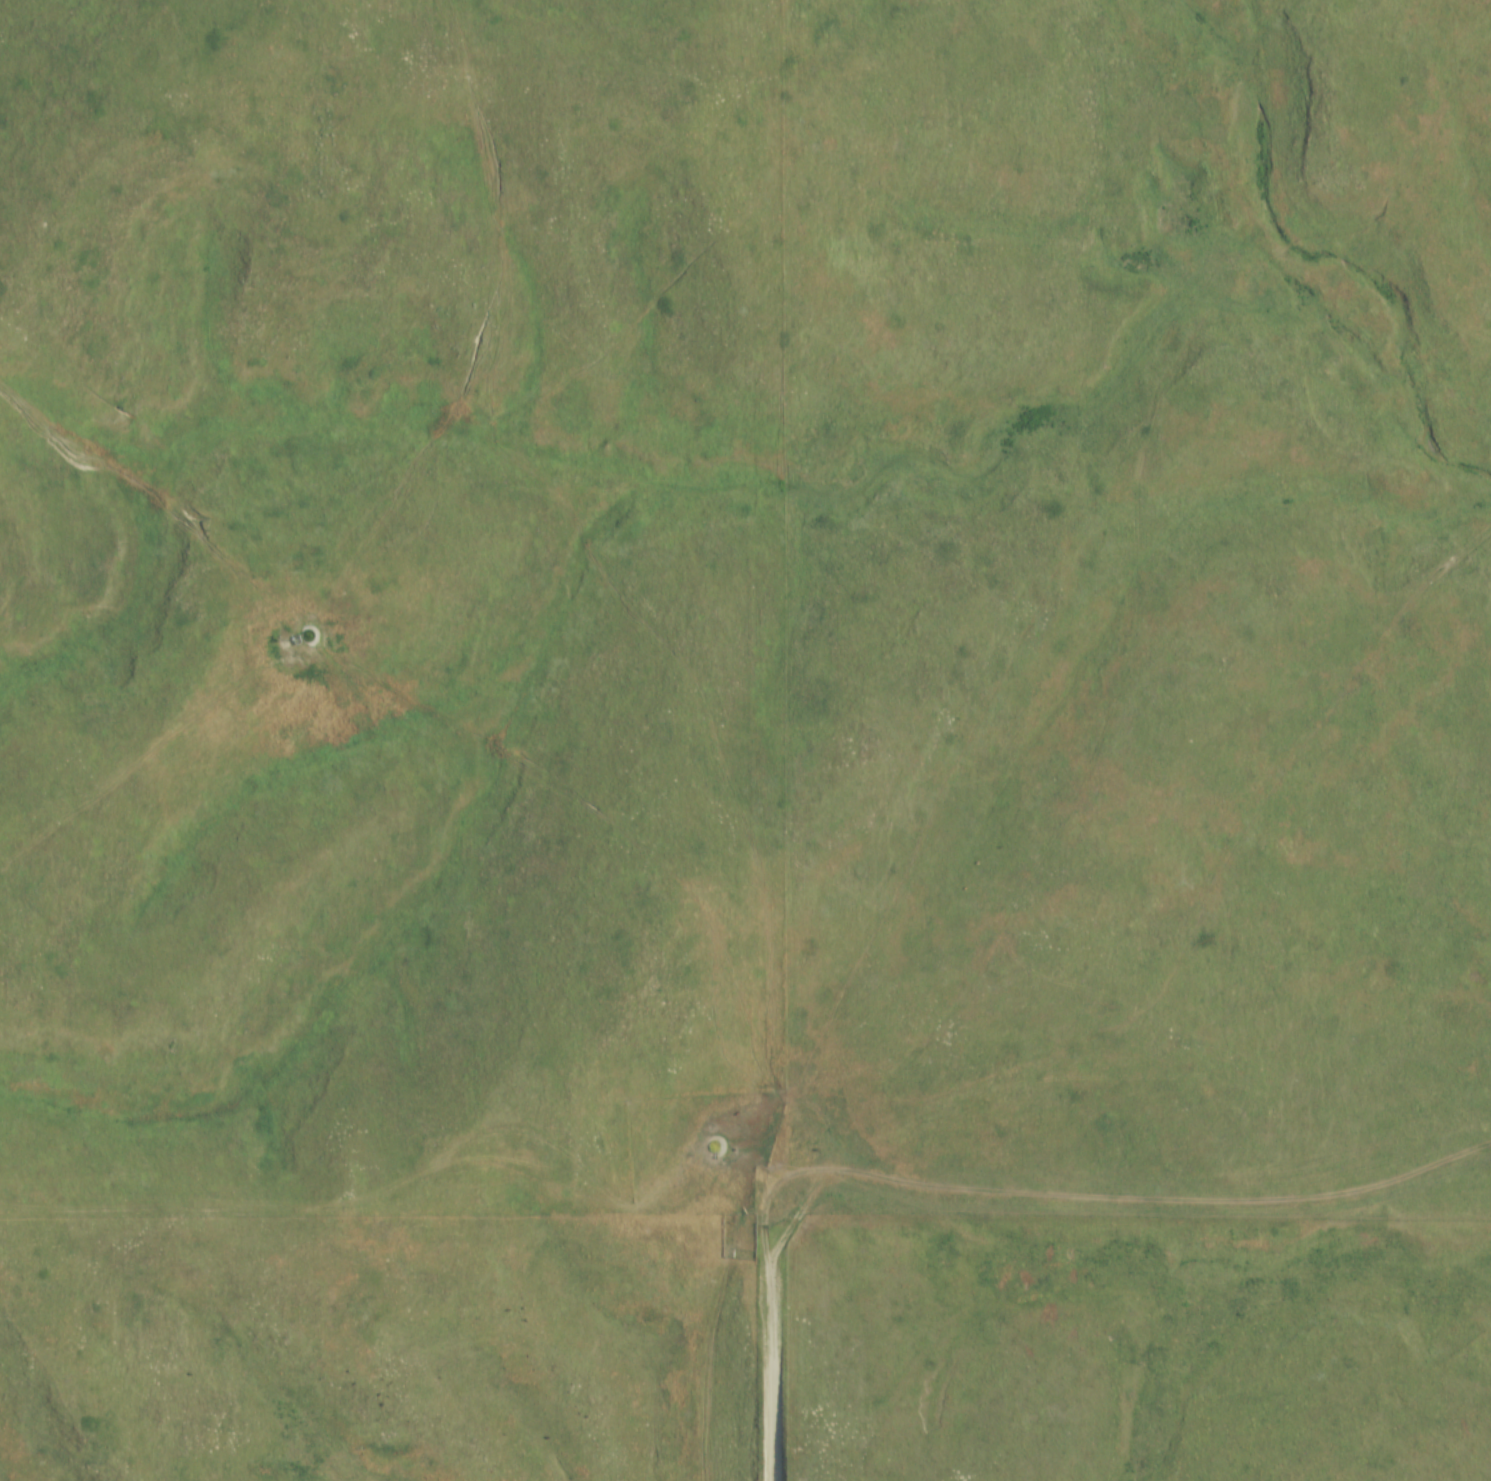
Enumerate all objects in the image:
road: (768, 1318)

